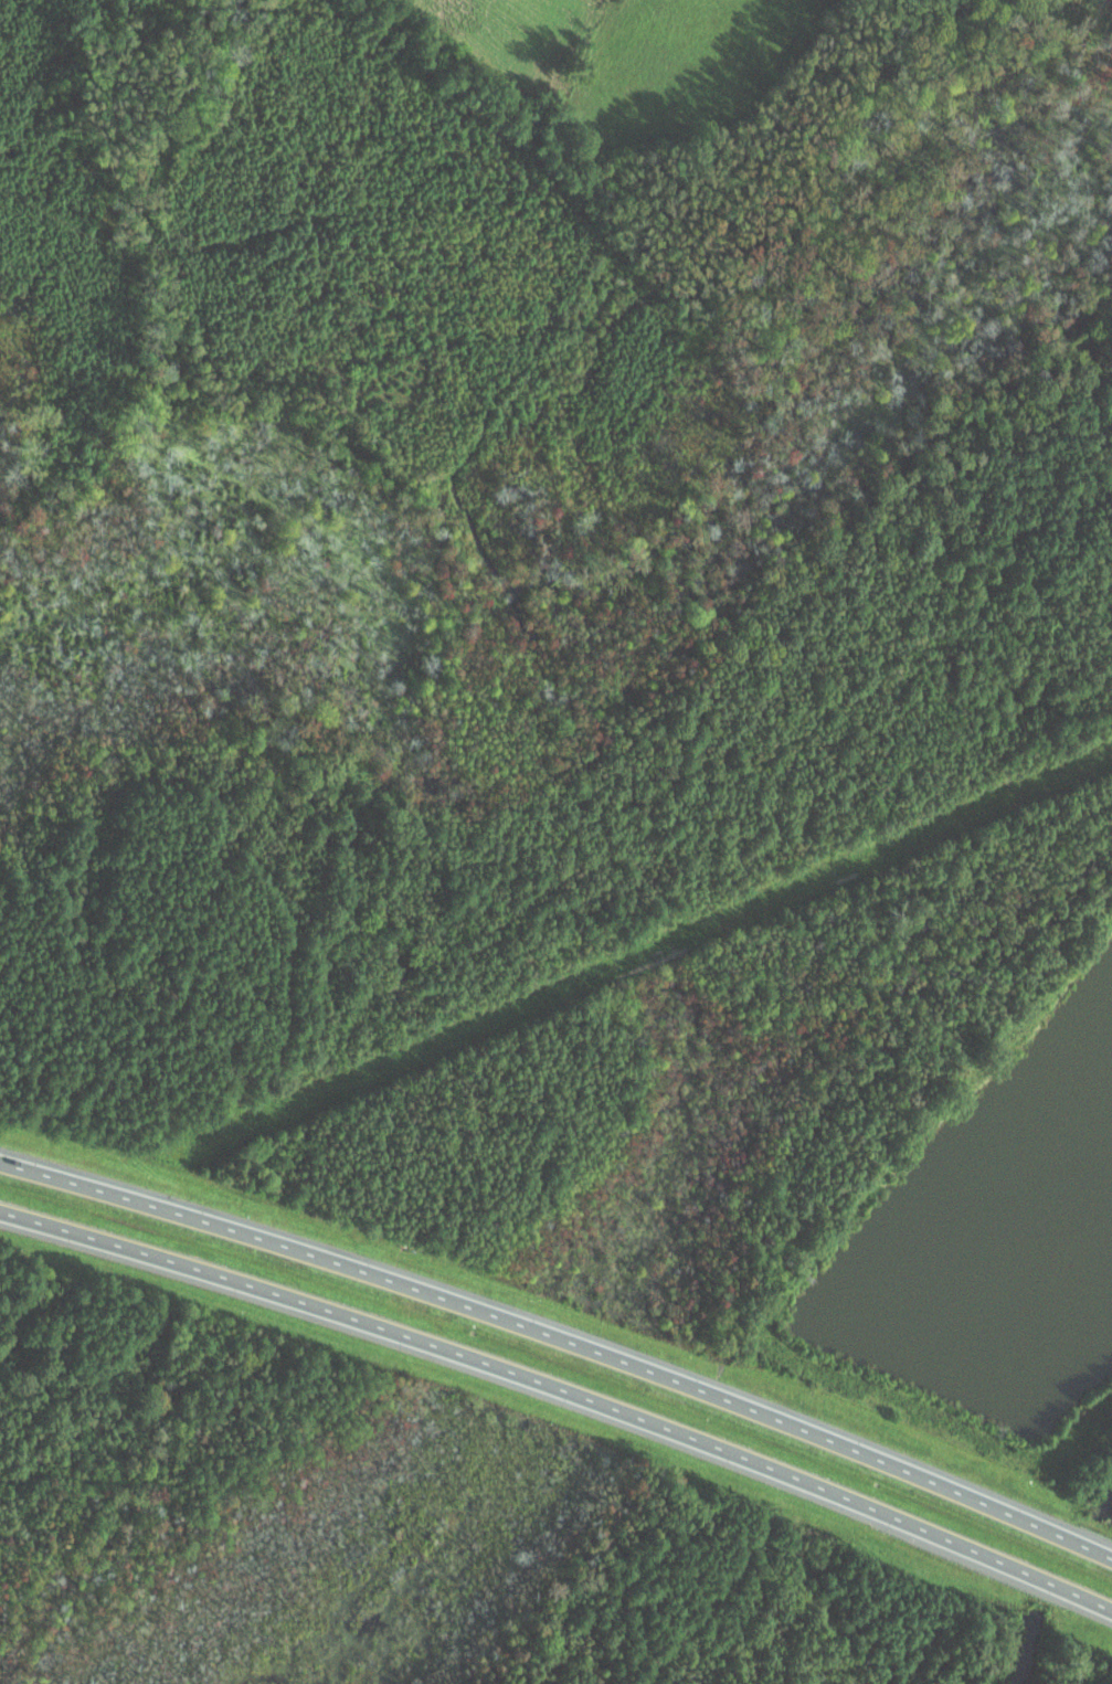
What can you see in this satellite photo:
road: (563, 1337)
road: (563, 1389)

